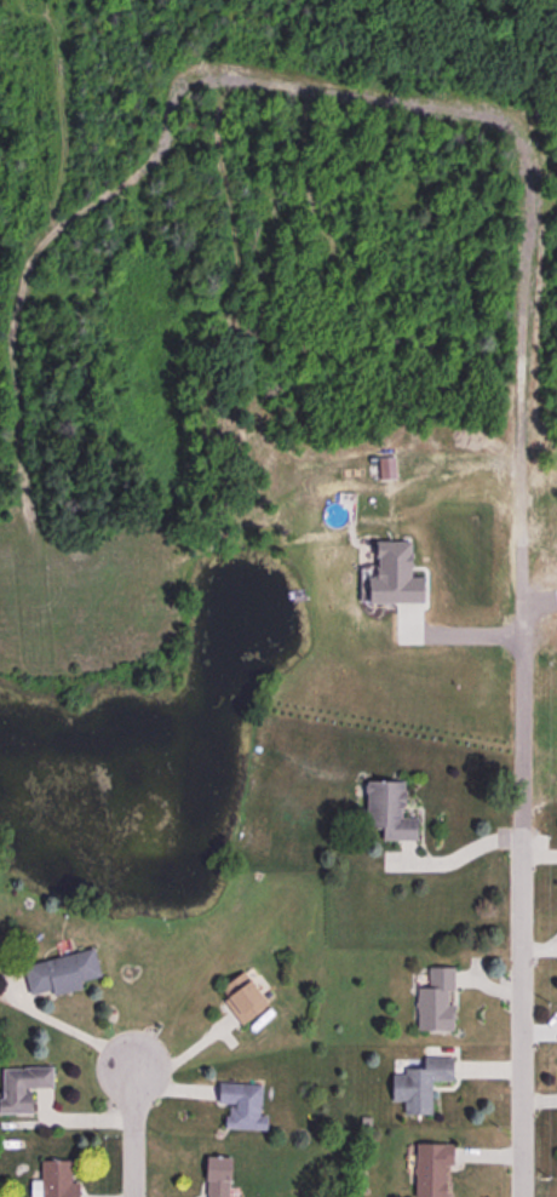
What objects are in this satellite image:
building: (394, 574)
road: (453, 634)
road: (519, 791)
building: (390, 809)
building: (62, 972)
building: (242, 996)
building: (436, 1000)
road: (63, 1024)
building: (421, 1083)
building: (22, 1086)
building: (242, 1105)
road: (132, 1127)
building: (432, 1168)
building: (218, 1175)
building: (58, 1179)

